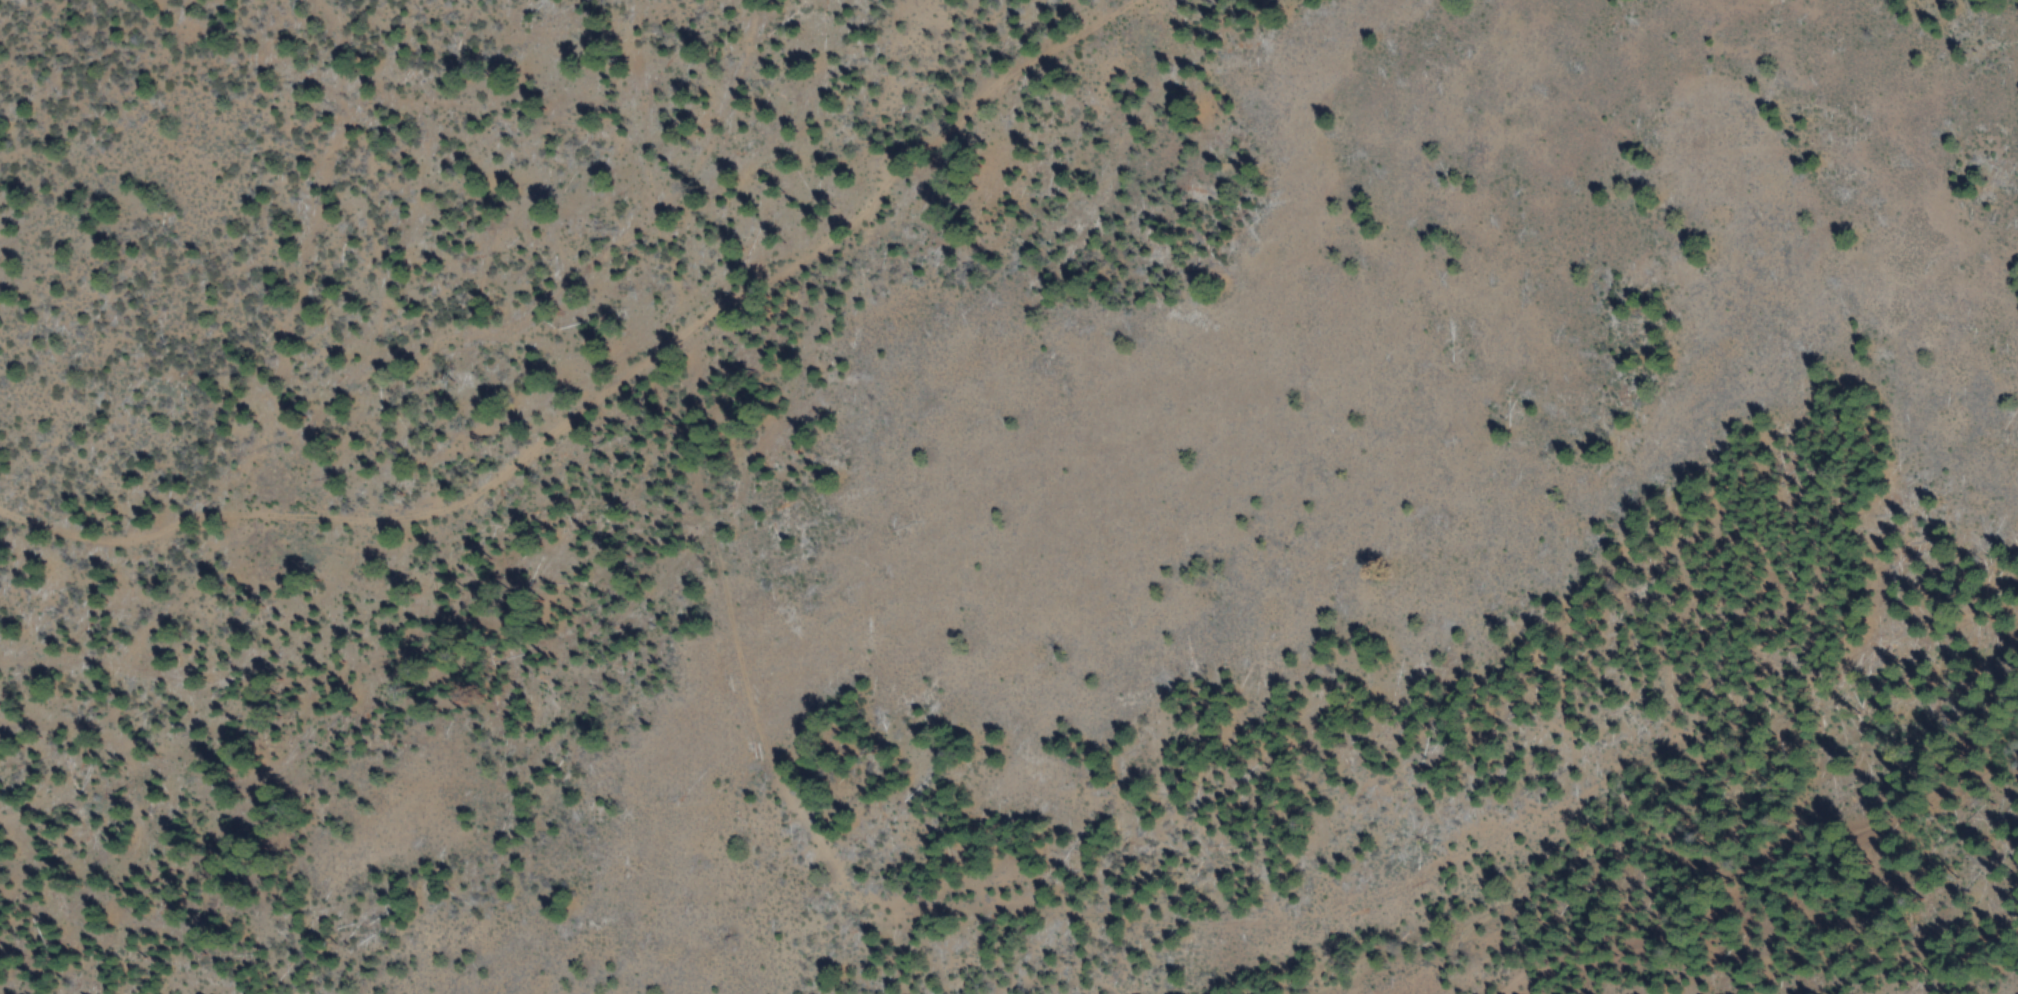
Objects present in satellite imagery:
road: (613, 389)
road: (1145, 919)

